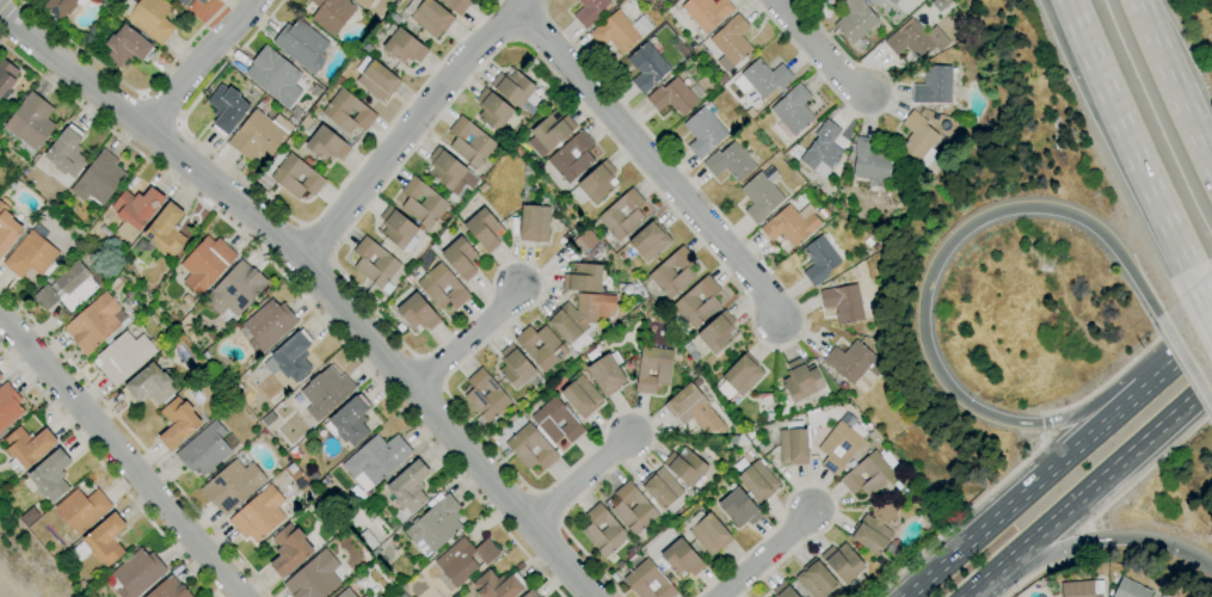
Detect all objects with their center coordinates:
road: (1, 1)
building: (184, 1)
building: (199, 1)
building: (873, 1)
building: (891, 1)
building: (363, 2)
road: (756, 4)
building: (456, 5)
building: (60, 7)
building: (589, 11)
building: (706, 12)
building: (331, 14)
building: (429, 17)
building: (149, 18)
building: (854, 20)
building: (619, 31)
building: (915, 39)
building: (731, 41)
building: (301, 44)
building: (401, 45)
building: (127, 47)
road: (822, 51)
road: (845, 57)
road: (197, 62)
building: (646, 67)
road: (73, 70)
building: (6, 75)
building: (275, 75)
road: (819, 76)
building: (764, 78)
building: (376, 79)
road: (1173, 84)
building: (512, 86)
building: (933, 86)
road: (128, 87)
road: (142, 96)
building: (672, 97)
building: (226, 109)
building: (492, 110)
building: (793, 110)
building: (347, 112)
road: (160, 113)
building: (750, 113)
building: (29, 124)
road: (412, 128)
building: (549, 133)
building: (703, 133)
building: (258, 135)
building: (917, 136)
road: (1125, 140)
building: (469, 142)
building: (326, 144)
building: (822, 147)
building: (64, 154)
building: (571, 158)
road: (650, 160)
building: (870, 160)
building: (730, 162)
building: (448, 170)
building: (295, 178)
building: (98, 179)
building: (595, 184)
road: (375, 193)
building: (759, 197)
building: (422, 203)
building: (135, 211)
building: (622, 215)
road: (294, 221)
building: (534, 222)
building: (790, 224)
building: (7, 229)
building: (396, 229)
building: (484, 229)
building: (165, 230)
building: (584, 241)
building: (648, 241)
building: (30, 253)
building: (460, 258)
building: (819, 260)
building: (205, 264)
building: (375, 264)
building: (672, 273)
building: (583, 277)
building: (67, 288)
building: (442, 288)
building: (235, 289)
road: (1201, 295)
road: (301, 298)
road: (925, 300)
building: (697, 302)
building: (843, 303)
building: (417, 313)
building: (579, 315)
building: (93, 322)
building: (267, 325)
building: (718, 332)
road: (467, 340)
building: (541, 346)
road: (380, 350)
building: (293, 356)
building: (123, 357)
road: (1130, 361)
building: (855, 362)
road: (1186, 362)
building: (515, 367)
building: (653, 369)
building: (607, 374)
building: (0, 377)
building: (739, 377)
building: (800, 381)
building: (149, 386)
building: (321, 394)
building: (485, 395)
building: (580, 396)
building: (8, 406)
building: (694, 410)
building: (349, 421)
building: (556, 421)
building: (177, 423)
road: (1045, 423)
road: (136, 442)
building: (793, 444)
building: (26, 448)
building: (530, 448)
building: (838, 448)
building: (207, 449)
road: (122, 457)
building: (376, 460)
road: (1058, 463)
building: (685, 466)
road: (106, 472)
road: (1145, 473)
building: (50, 475)
building: (867, 475)
road: (582, 479)
building: (758, 481)
building: (232, 485)
road: (813, 485)
building: (408, 487)
building: (660, 487)
road: (1088, 488)
building: (82, 509)
building: (632, 509)
building: (738, 509)
building: (258, 515)
road: (961, 516)
building: (334, 523)
building: (435, 525)
building: (874, 528)
building: (603, 530)
building: (708, 533)
building: (368, 540)
building: (101, 541)
road: (1081, 543)
road: (1087, 543)
building: (289, 549)
road: (761, 555)
building: (681, 558)
building: (465, 560)
building: (842, 562)
park: (25, 566)
road: (1040, 571)
building: (135, 573)
building: (314, 577)
building: (817, 580)
building: (648, 581)
building: (497, 585)
building: (168, 589)
building: (1082, 589)
building: (1130, 589)
building: (782, 590)
building: (345, 593)
building: (530, 593)
building: (362, 596)
building: (364, 596)

